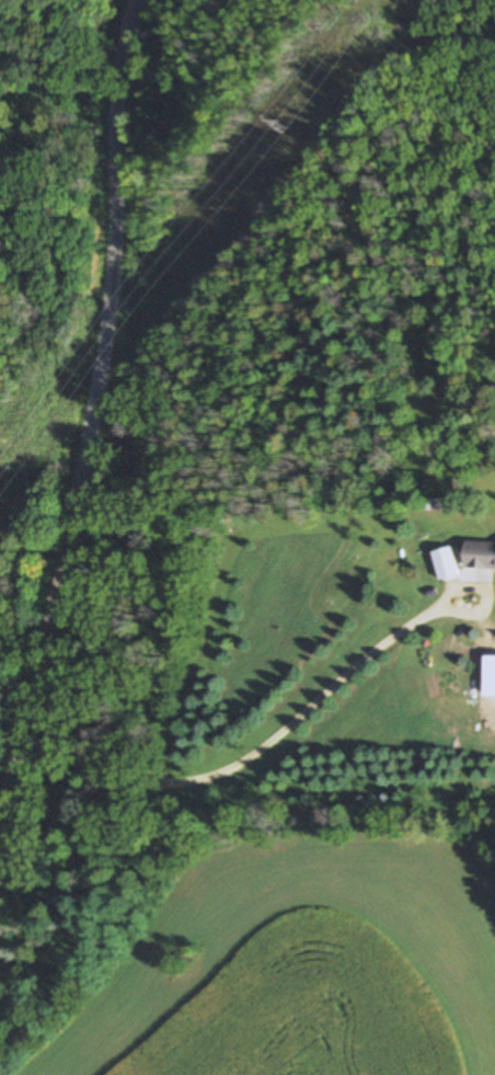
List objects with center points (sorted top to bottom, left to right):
power tower: (287, 124)
road: (89, 426)
building: (435, 504)
building: (480, 556)
building: (445, 563)

